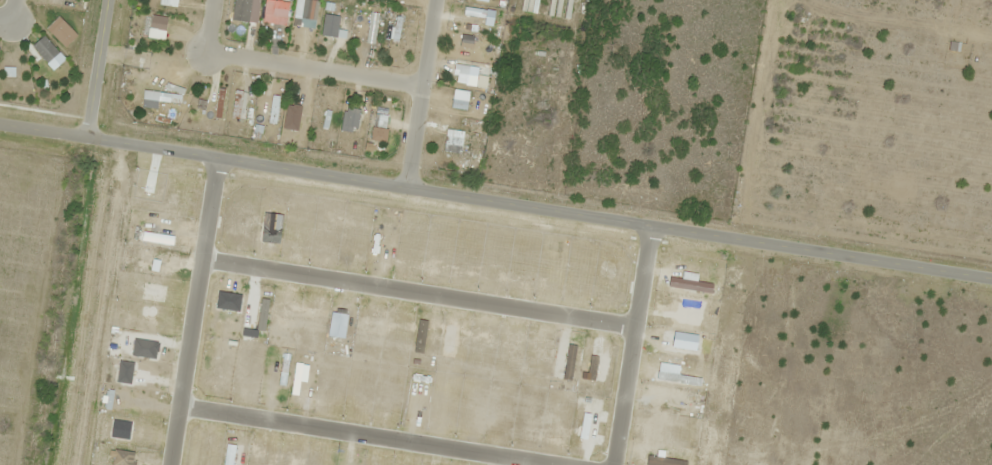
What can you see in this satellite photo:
building: (244, 10)
road: (10, 12)
building: (473, 13)
building: (157, 23)
building: (397, 24)
road: (208, 25)
building: (362, 31)
road: (94, 66)
road: (312, 69)
building: (461, 77)
road: (419, 93)
building: (458, 100)
building: (349, 120)
building: (381, 121)
building: (451, 144)
road: (496, 202)
road: (418, 292)
road: (193, 310)
road: (631, 346)
road: (795, 360)
road: (968, 374)
road: (364, 435)

